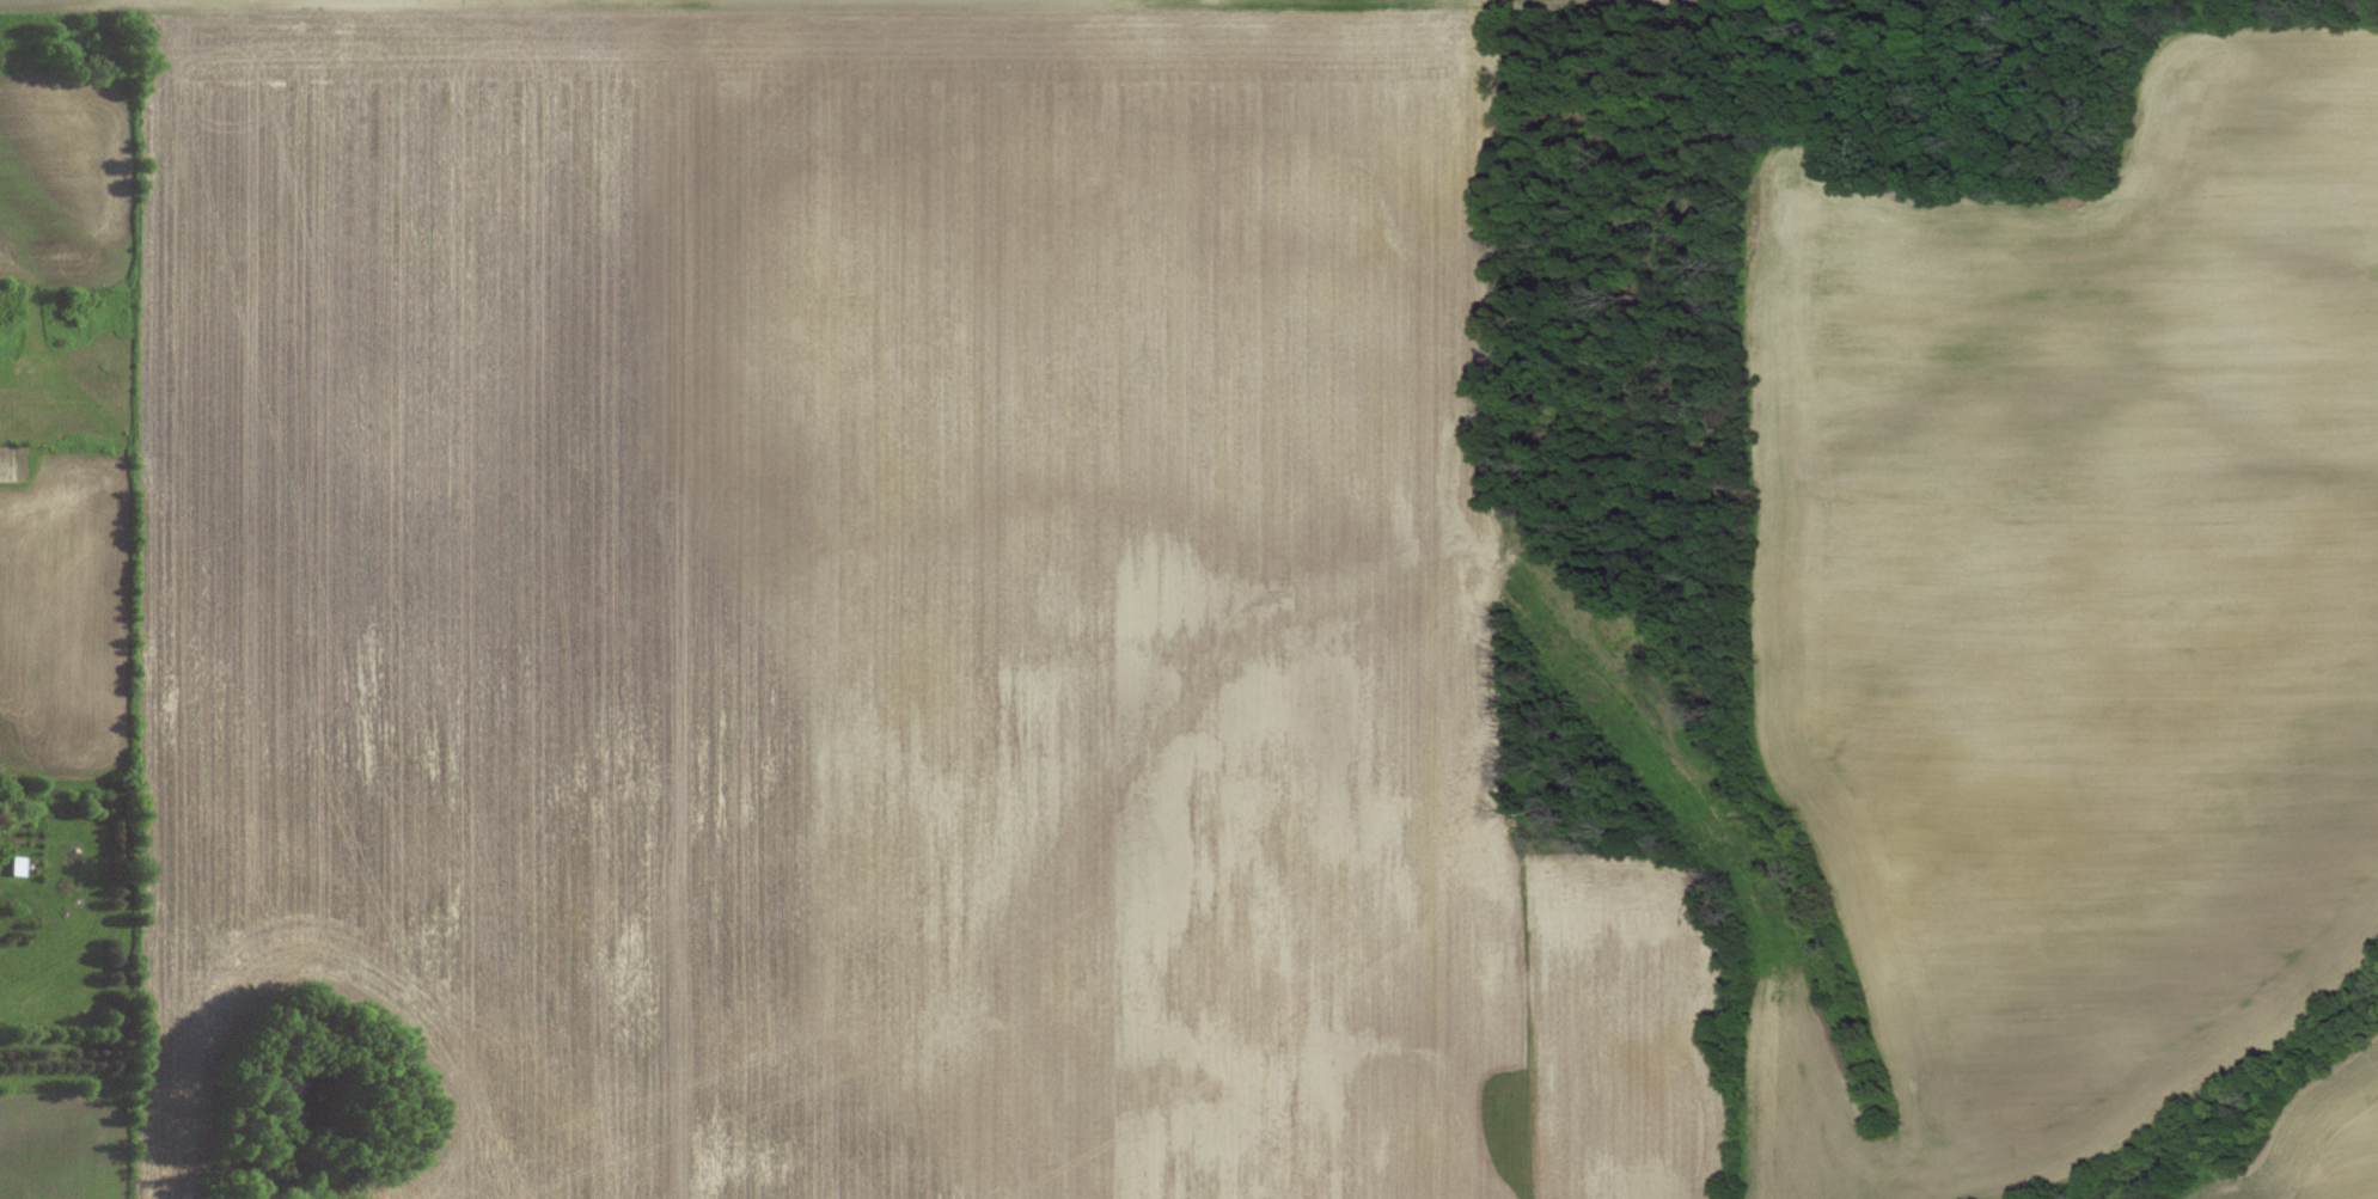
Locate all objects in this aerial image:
building: (17, 865)

